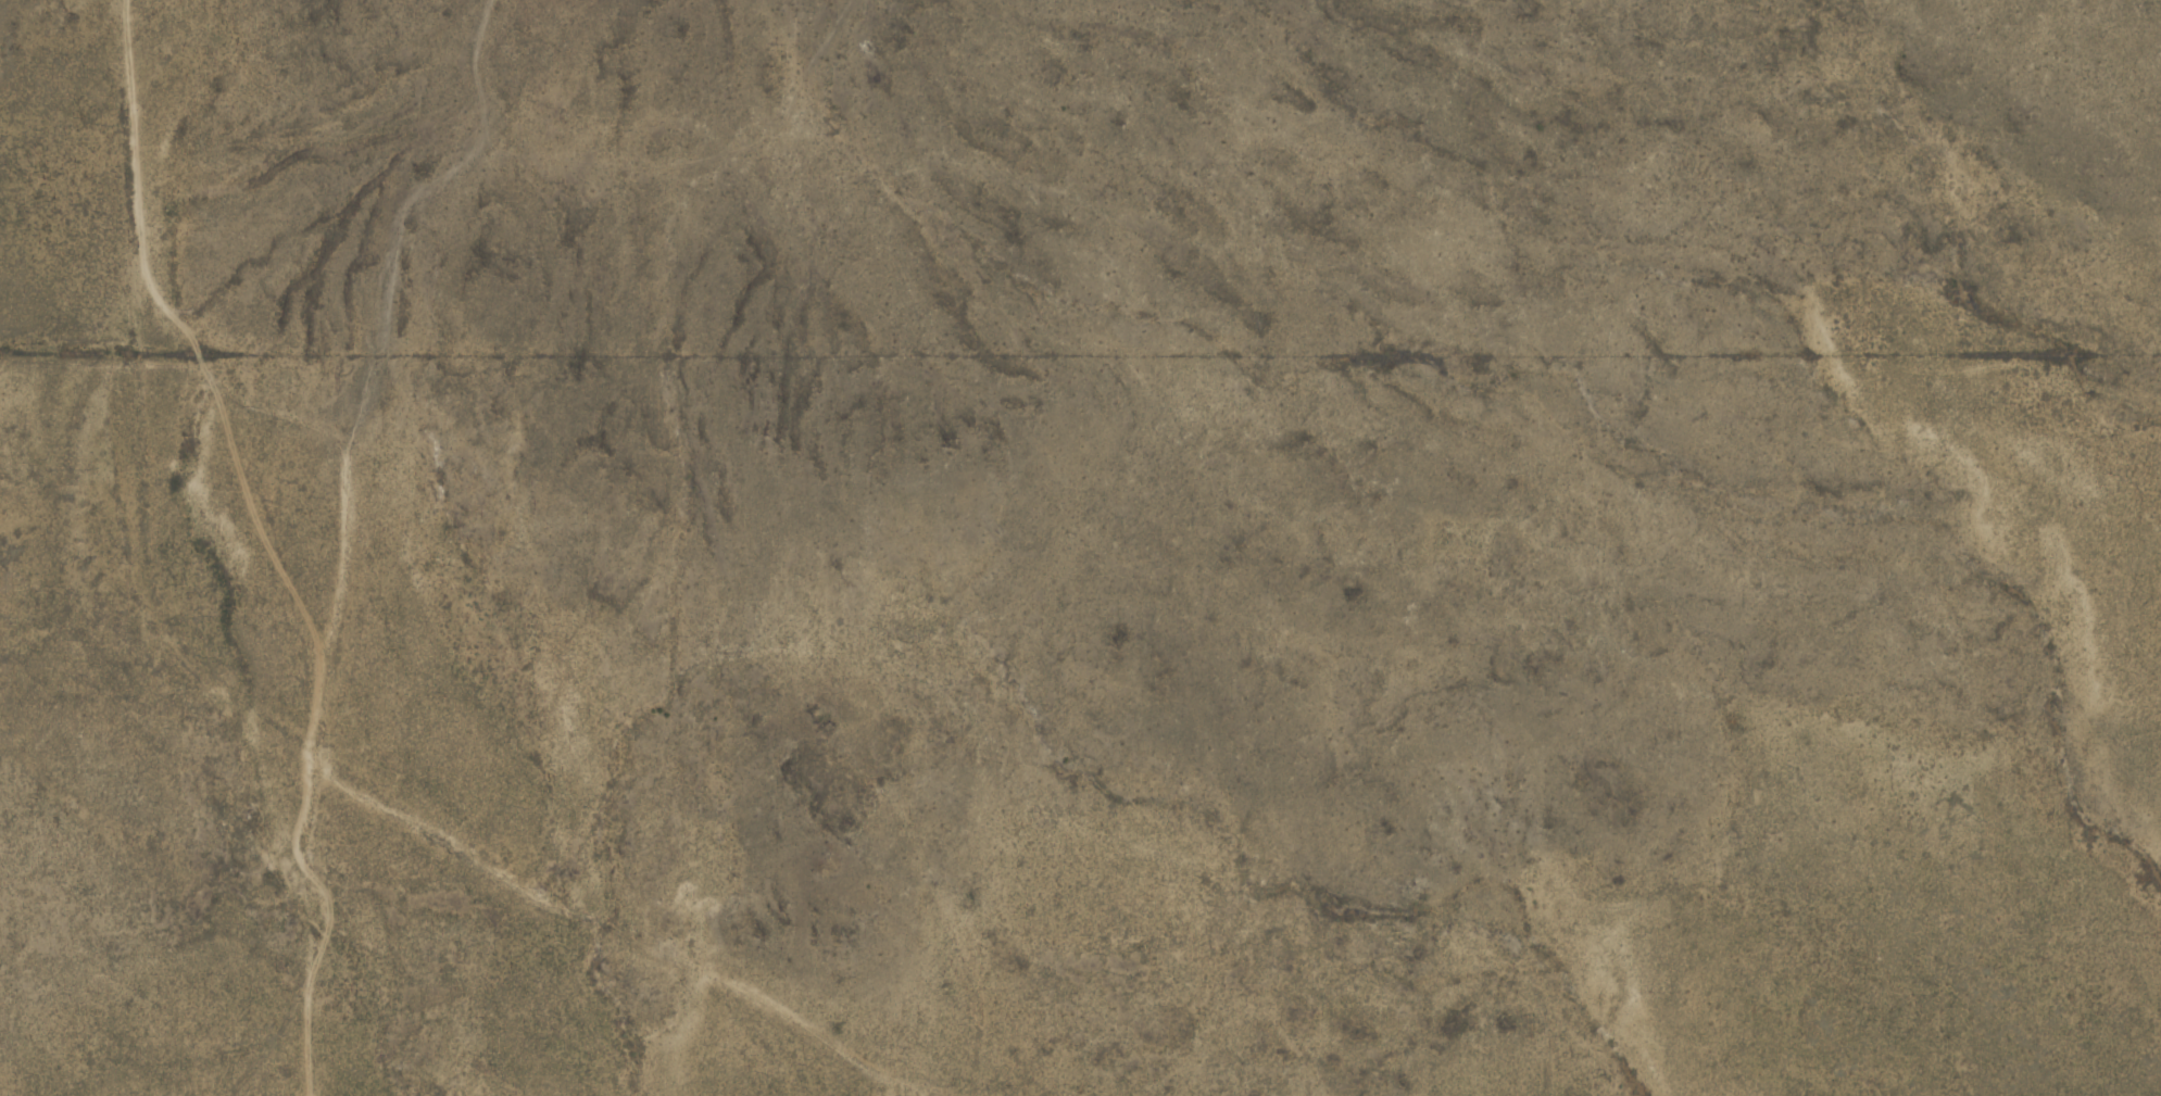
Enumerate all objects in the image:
road: (708, 167)
road: (347, 502)

